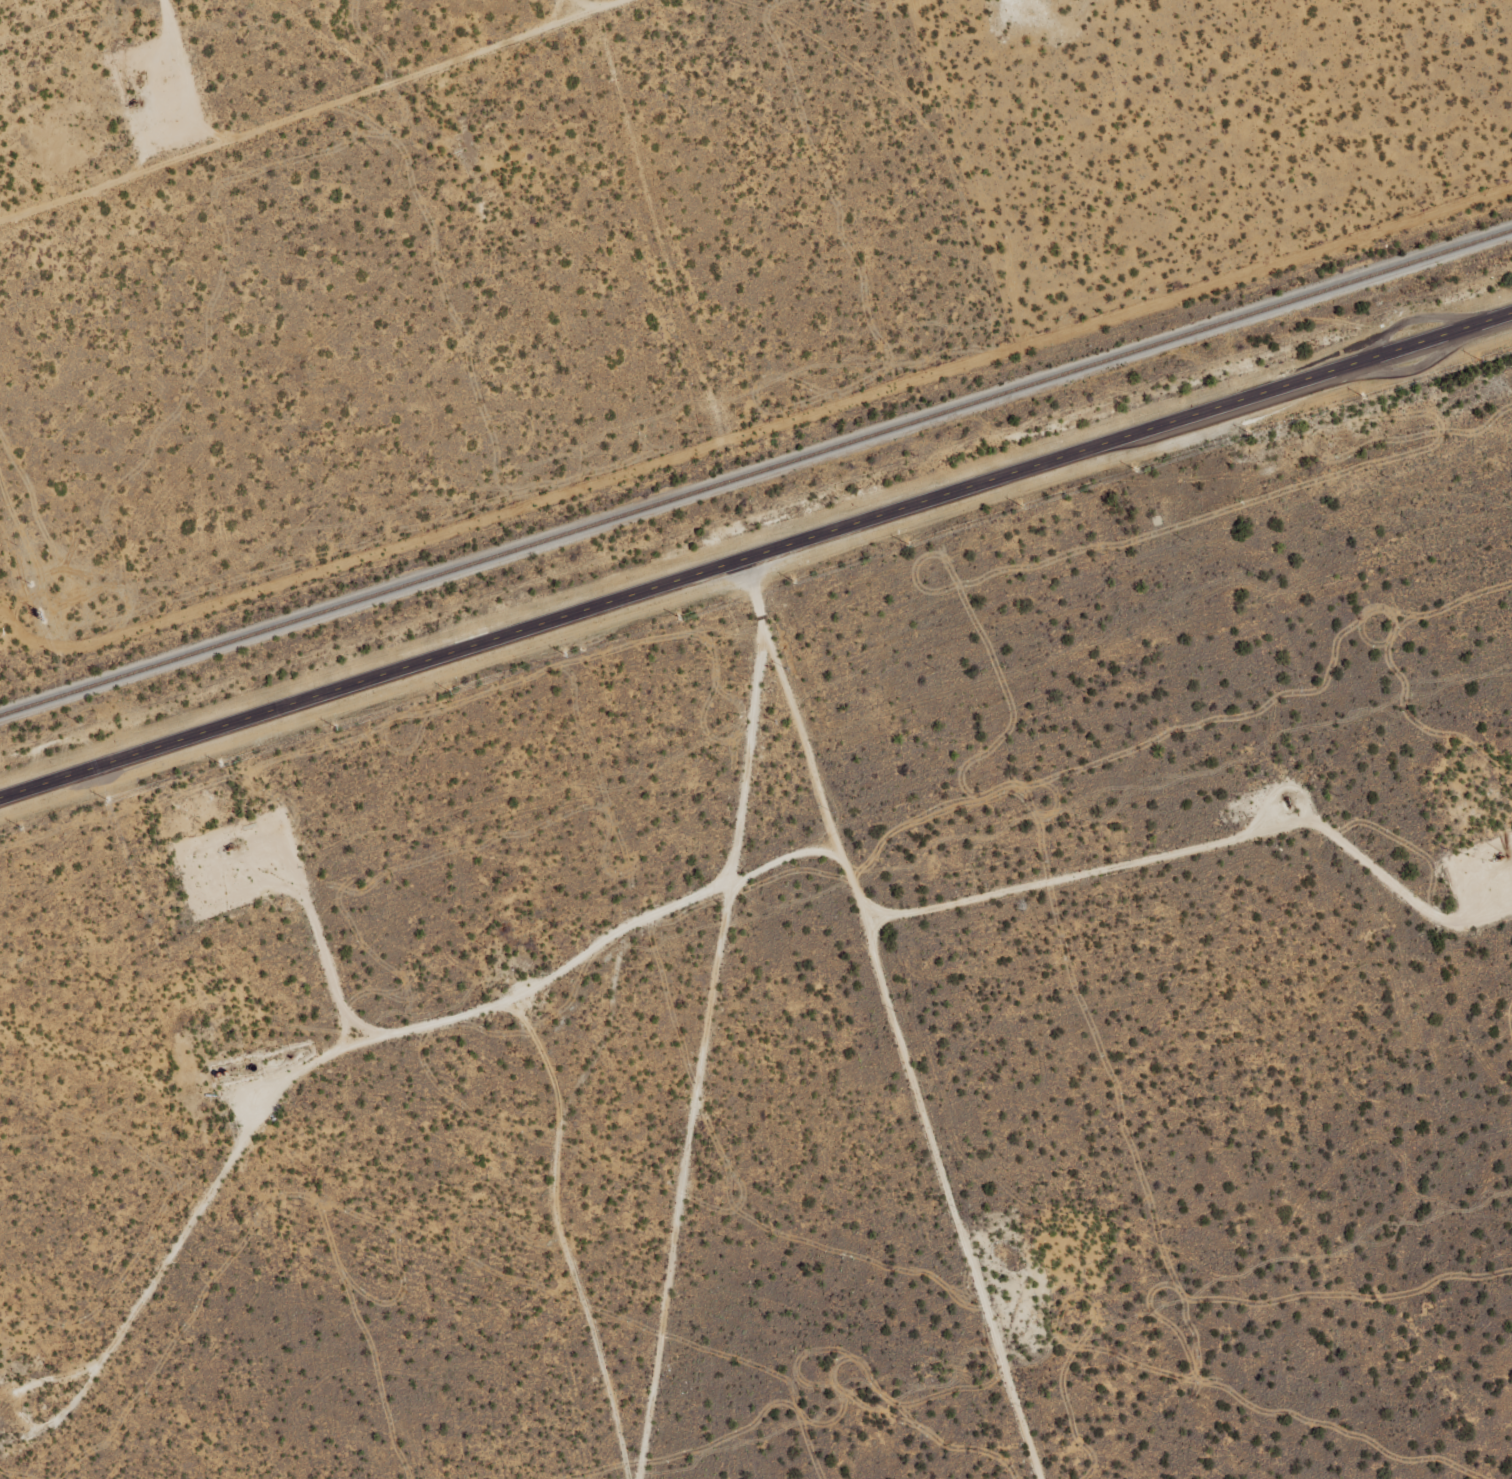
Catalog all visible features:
road: (566, 7)
road: (323, 104)
railway: (755, 472)
road: (756, 555)
road: (1013, 910)
road: (684, 1010)
road: (335, 1065)
road: (852, 1120)

